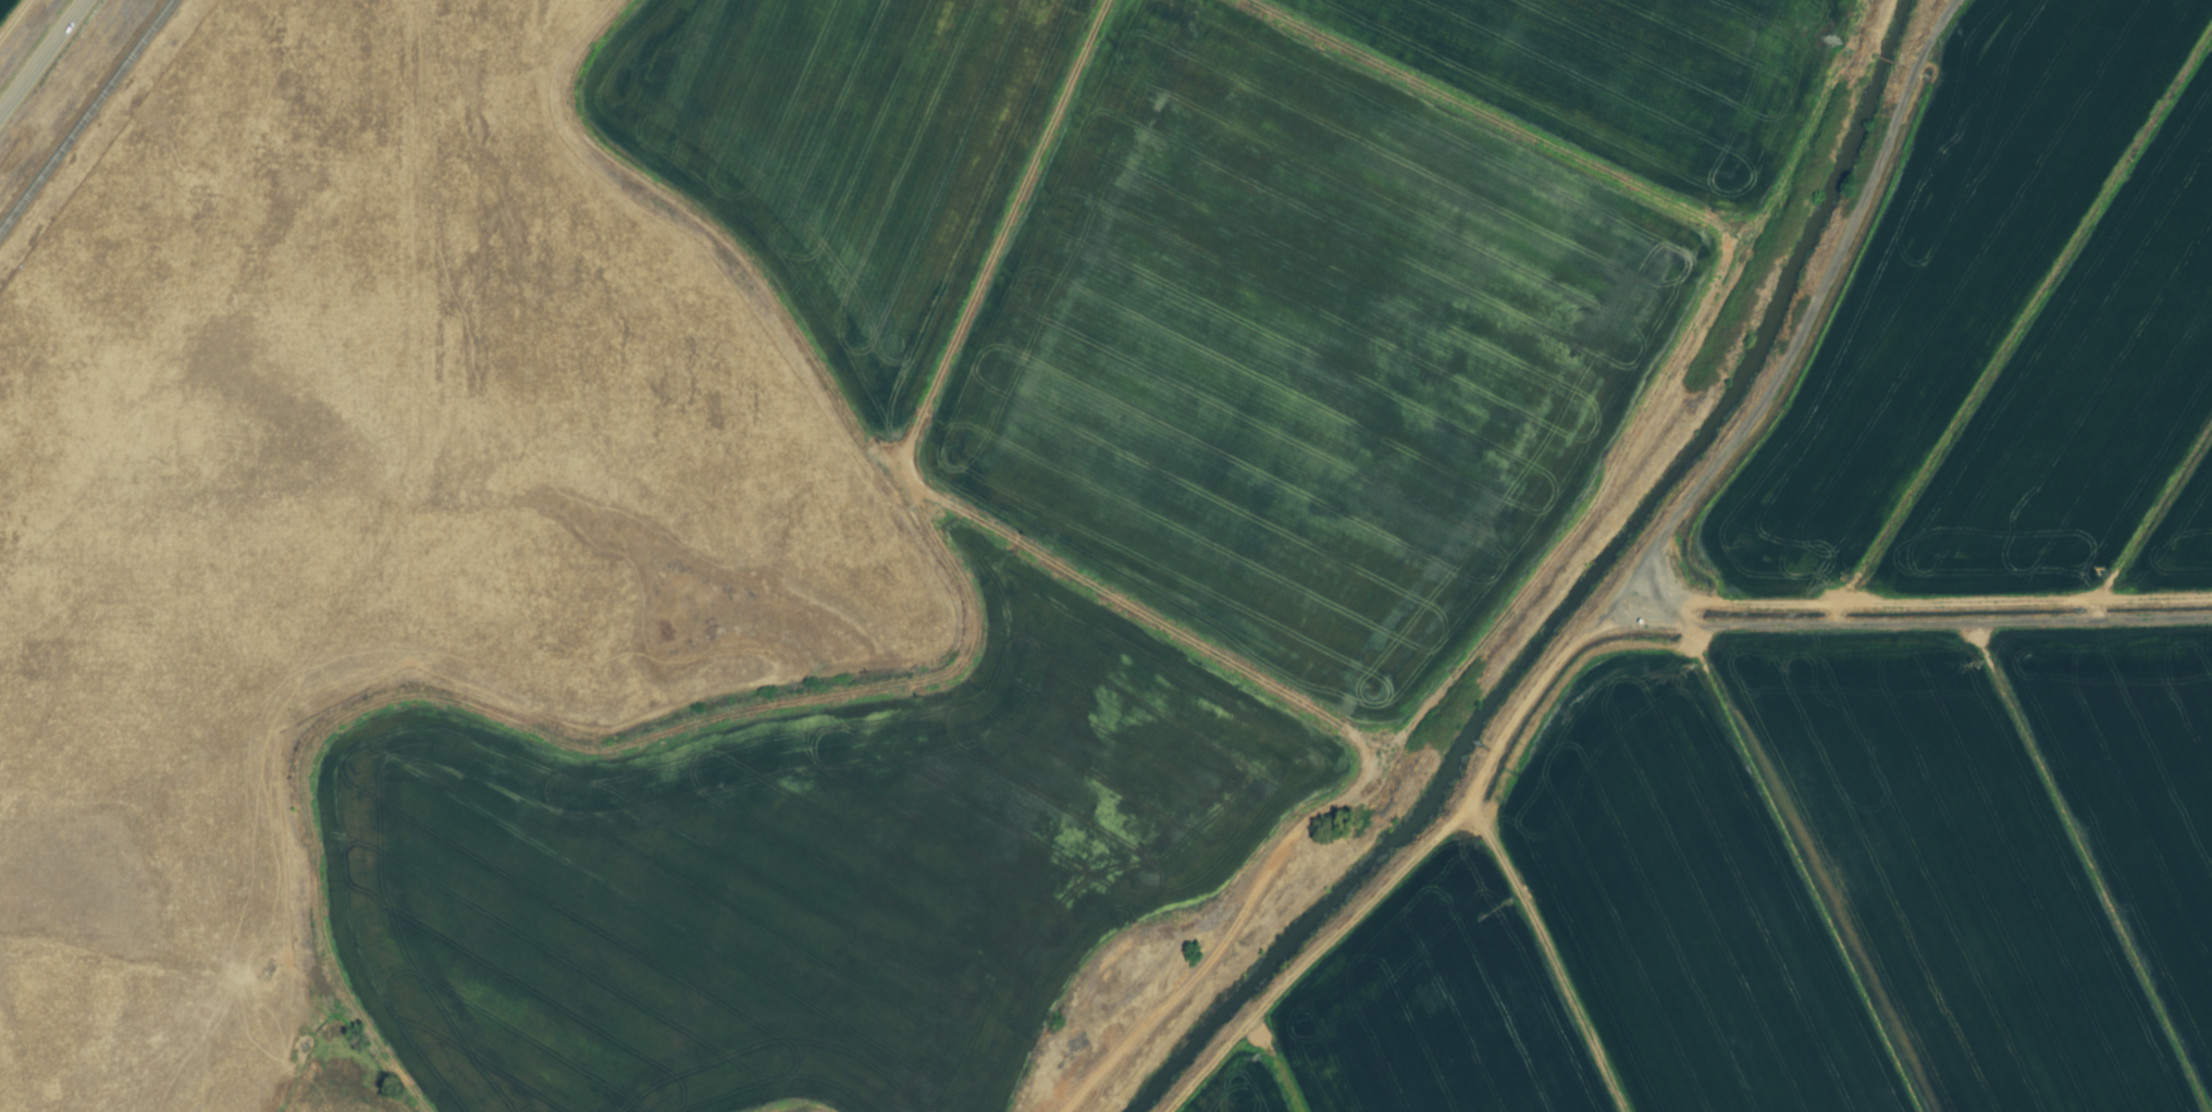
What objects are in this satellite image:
road: (44, 59)
railway: (86, 115)
road: (1616, 600)

